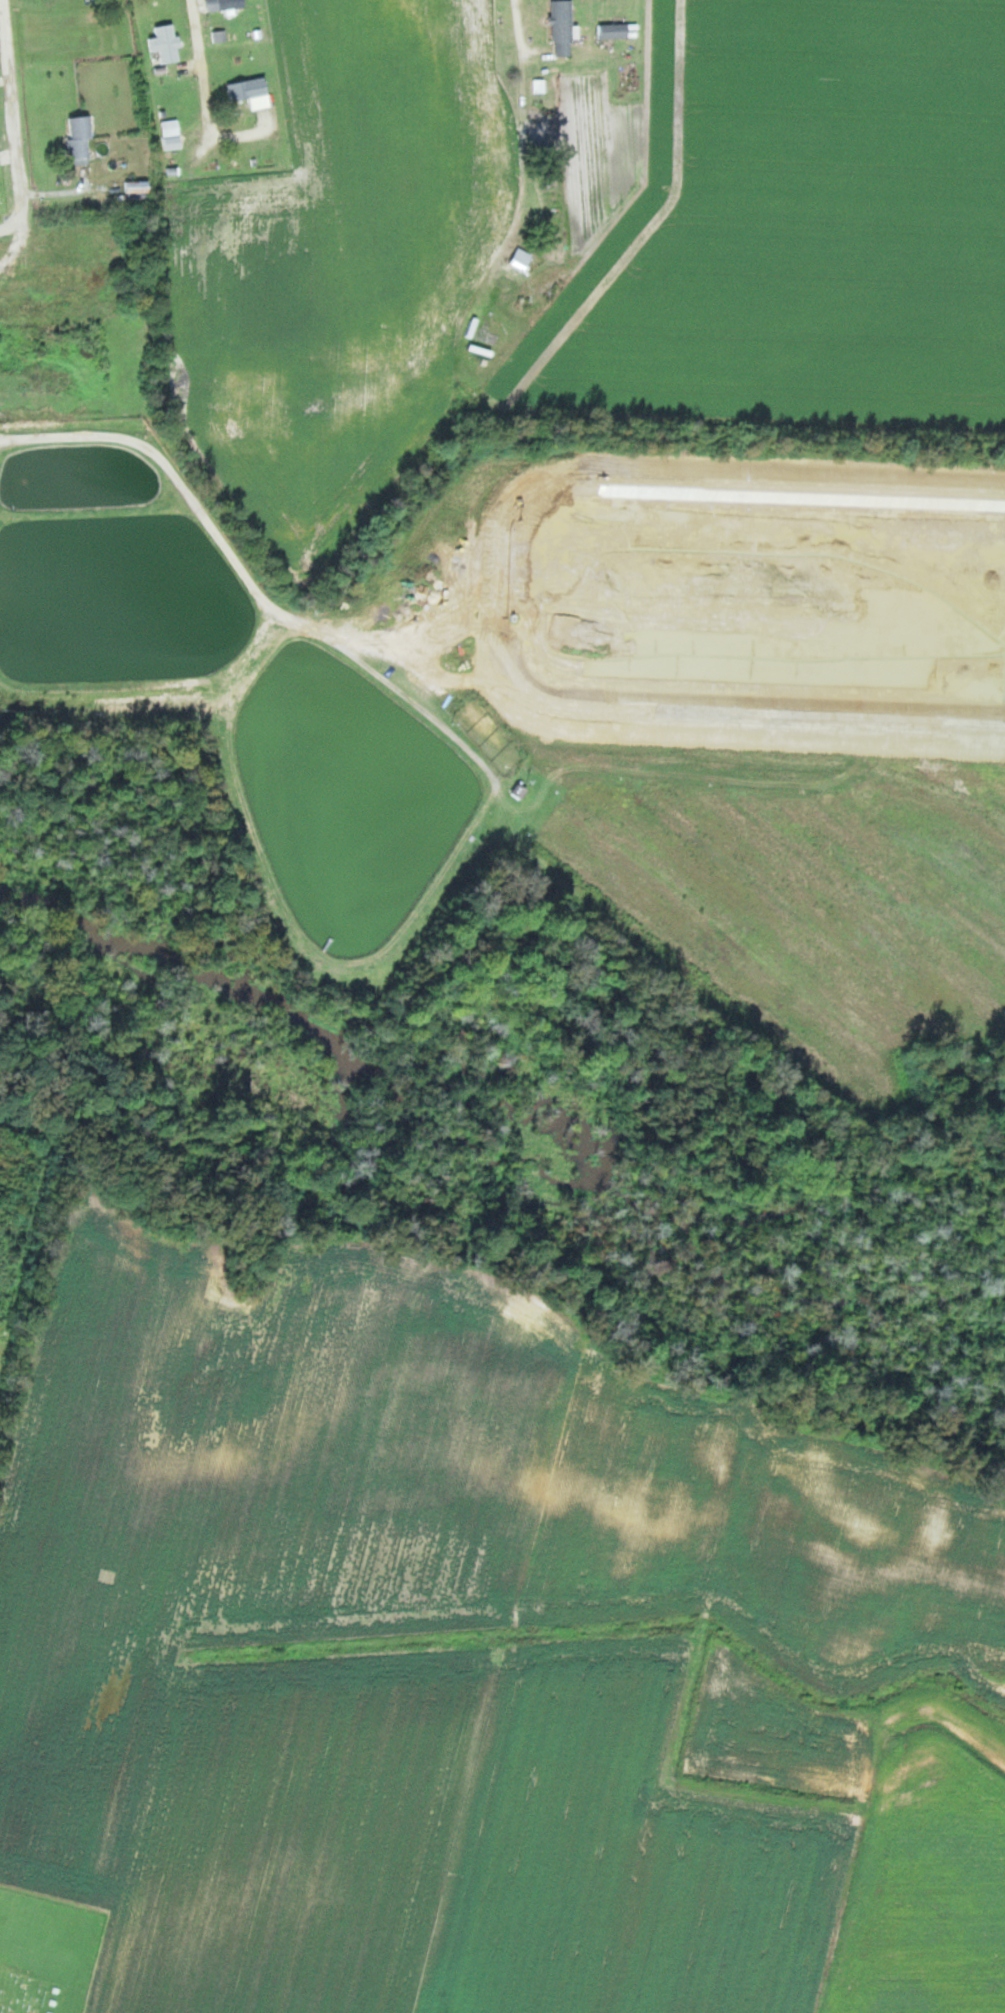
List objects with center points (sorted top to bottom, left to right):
building: (228, 5)
building: (565, 28)
building: (615, 30)
road: (519, 33)
building: (170, 43)
road: (201, 71)
building: (251, 89)
road: (14, 106)
building: (174, 134)
building: (83, 140)
building: (139, 192)
road: (13, 221)
building: (524, 260)
building: (365, 507)
wastewater plant: (106, 594)
wastewater plant: (350, 819)

